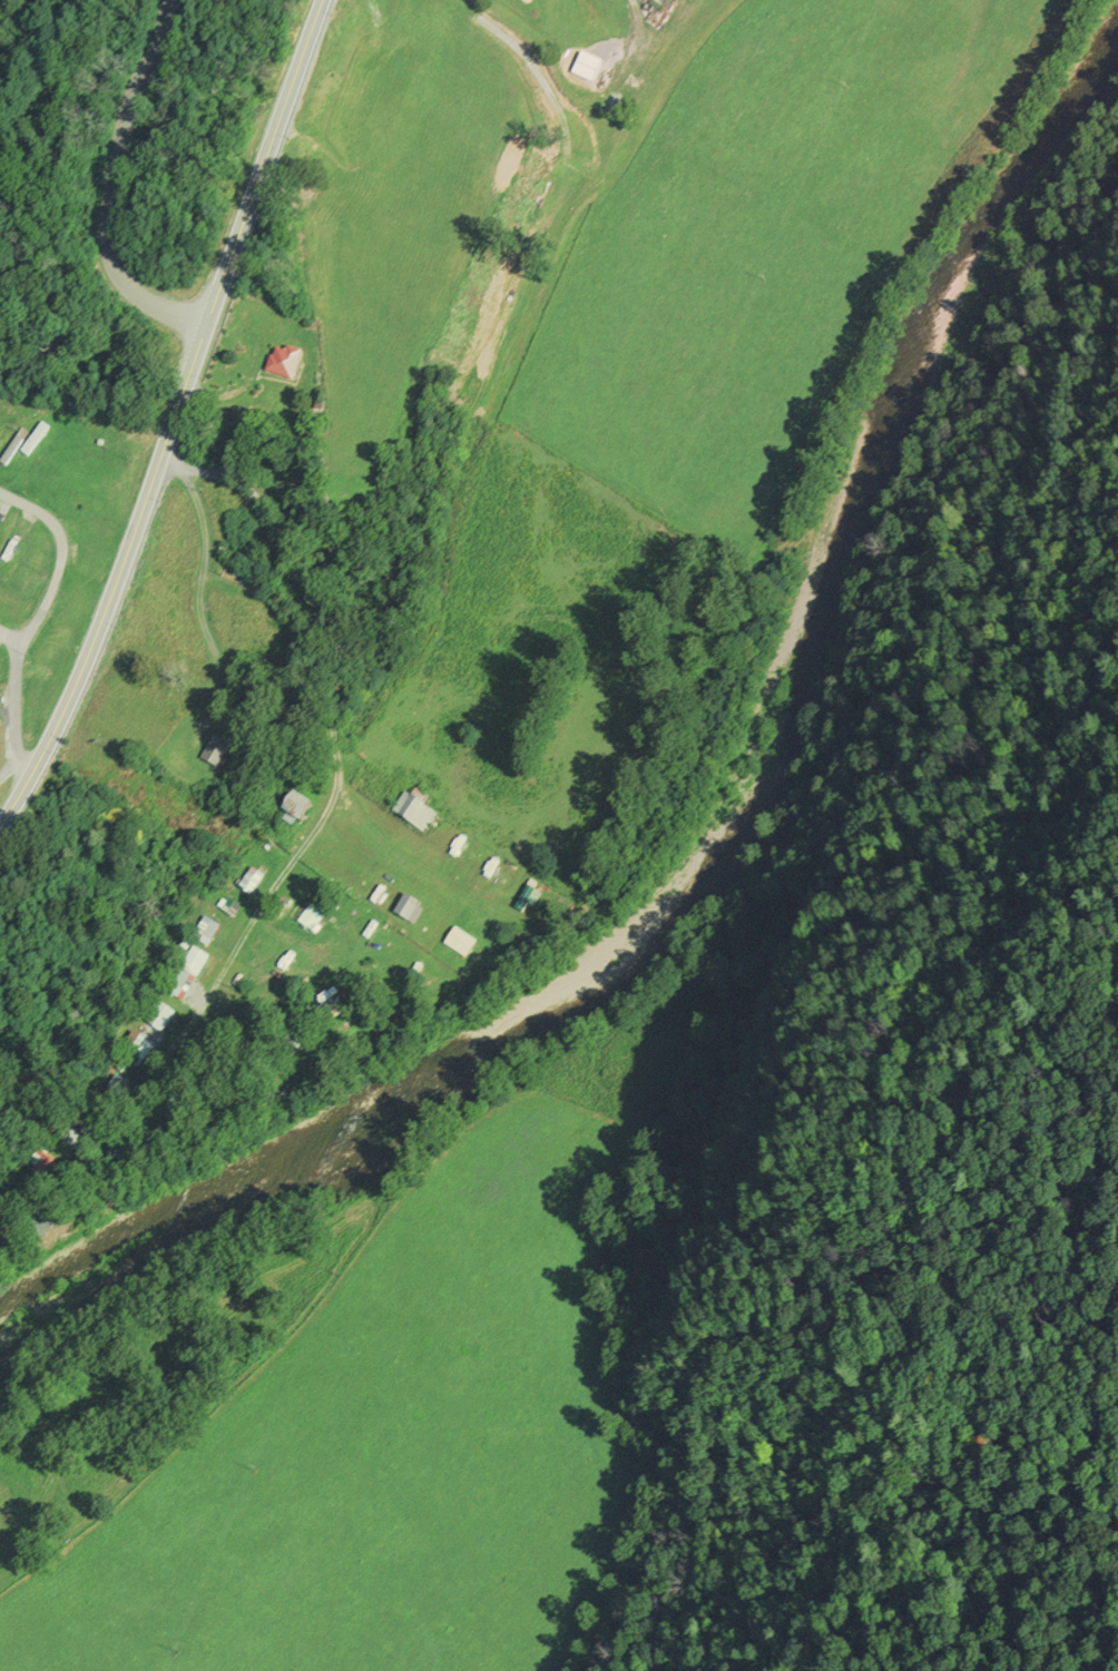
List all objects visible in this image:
building: (530, 1)
building: (590, 68)
road: (111, 194)
crop: (413, 197)
crop: (741, 257)
building: (286, 365)
road: (179, 422)
building: (2, 426)
building: (38, 441)
road: (61, 558)
road: (202, 591)
road: (9, 638)
road: (14, 714)
road: (335, 747)
building: (218, 753)
building: (302, 809)
building: (415, 813)
river: (753, 830)
building: (253, 881)
building: (232, 908)
building: (313, 915)
building: (206, 932)
building: (198, 961)
building: (177, 979)
building: (159, 1018)
building: (292, 1036)
building: (140, 1051)
building: (173, 1108)
building: (120, 1148)
building: (52, 1200)
building: (8, 1223)
crop: (390, 1449)

